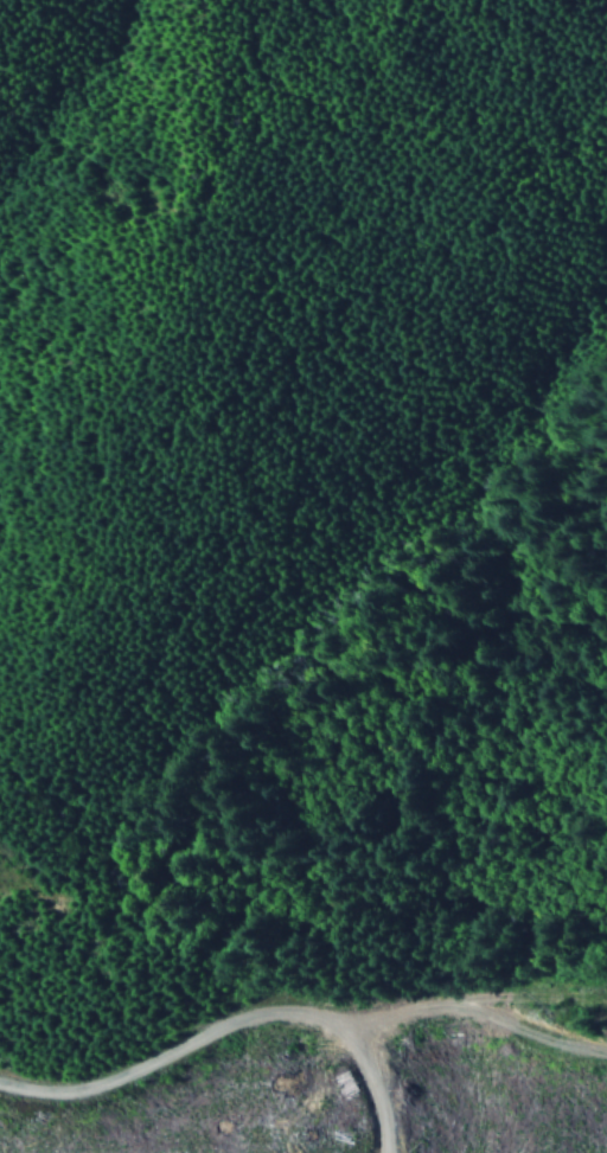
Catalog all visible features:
road: (290, 1097)

